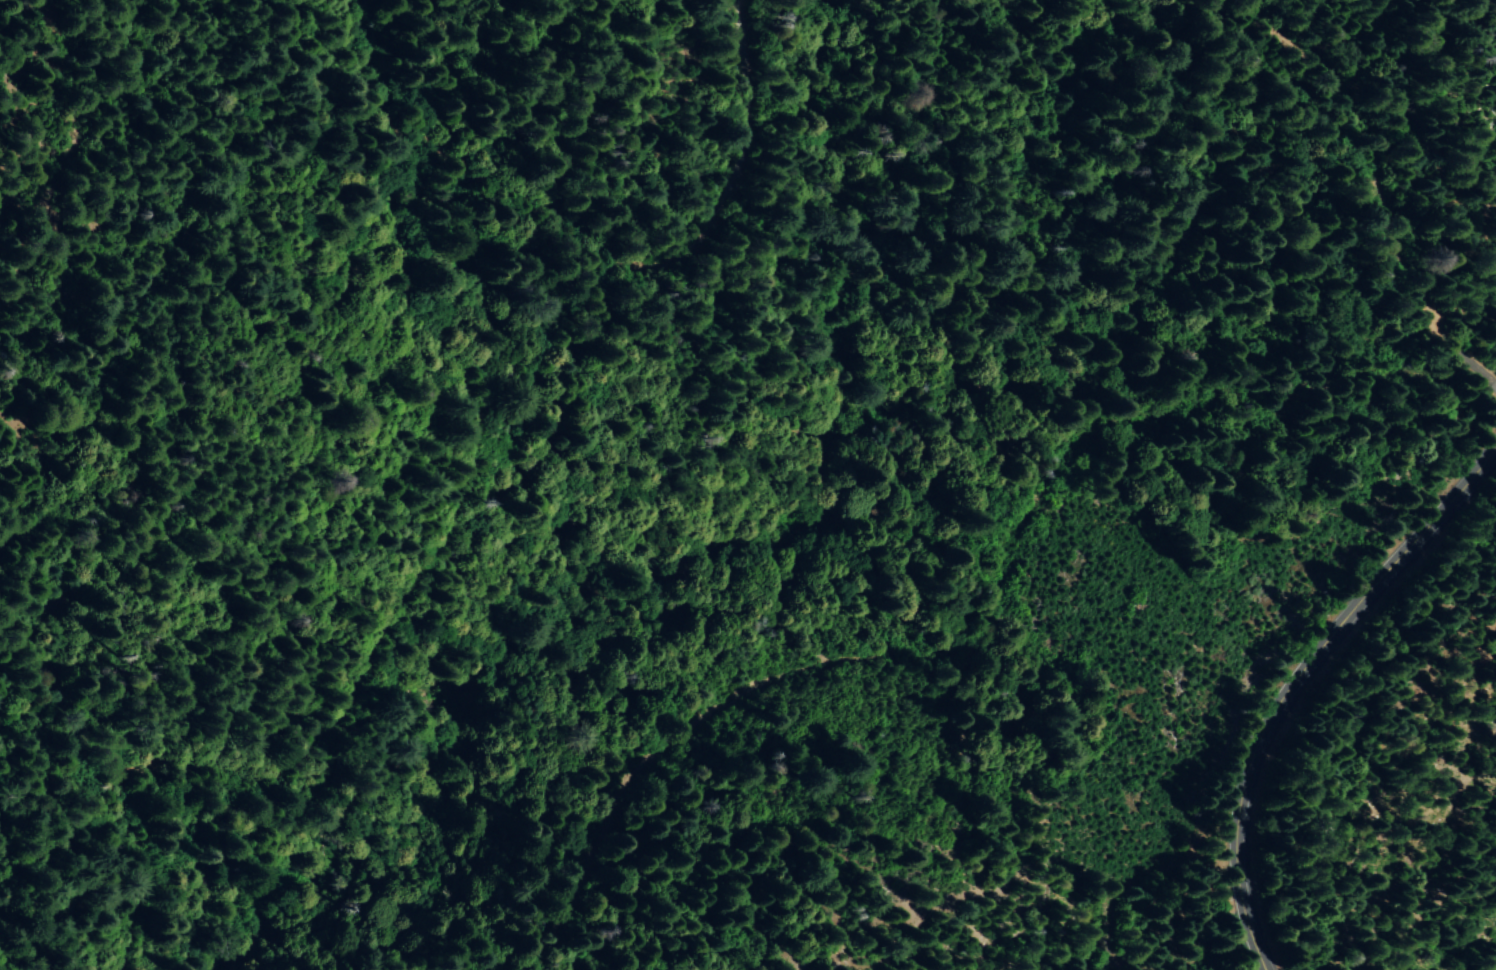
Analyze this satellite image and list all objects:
road: (1374, 204)
road: (430, 353)
road: (1297, 684)

